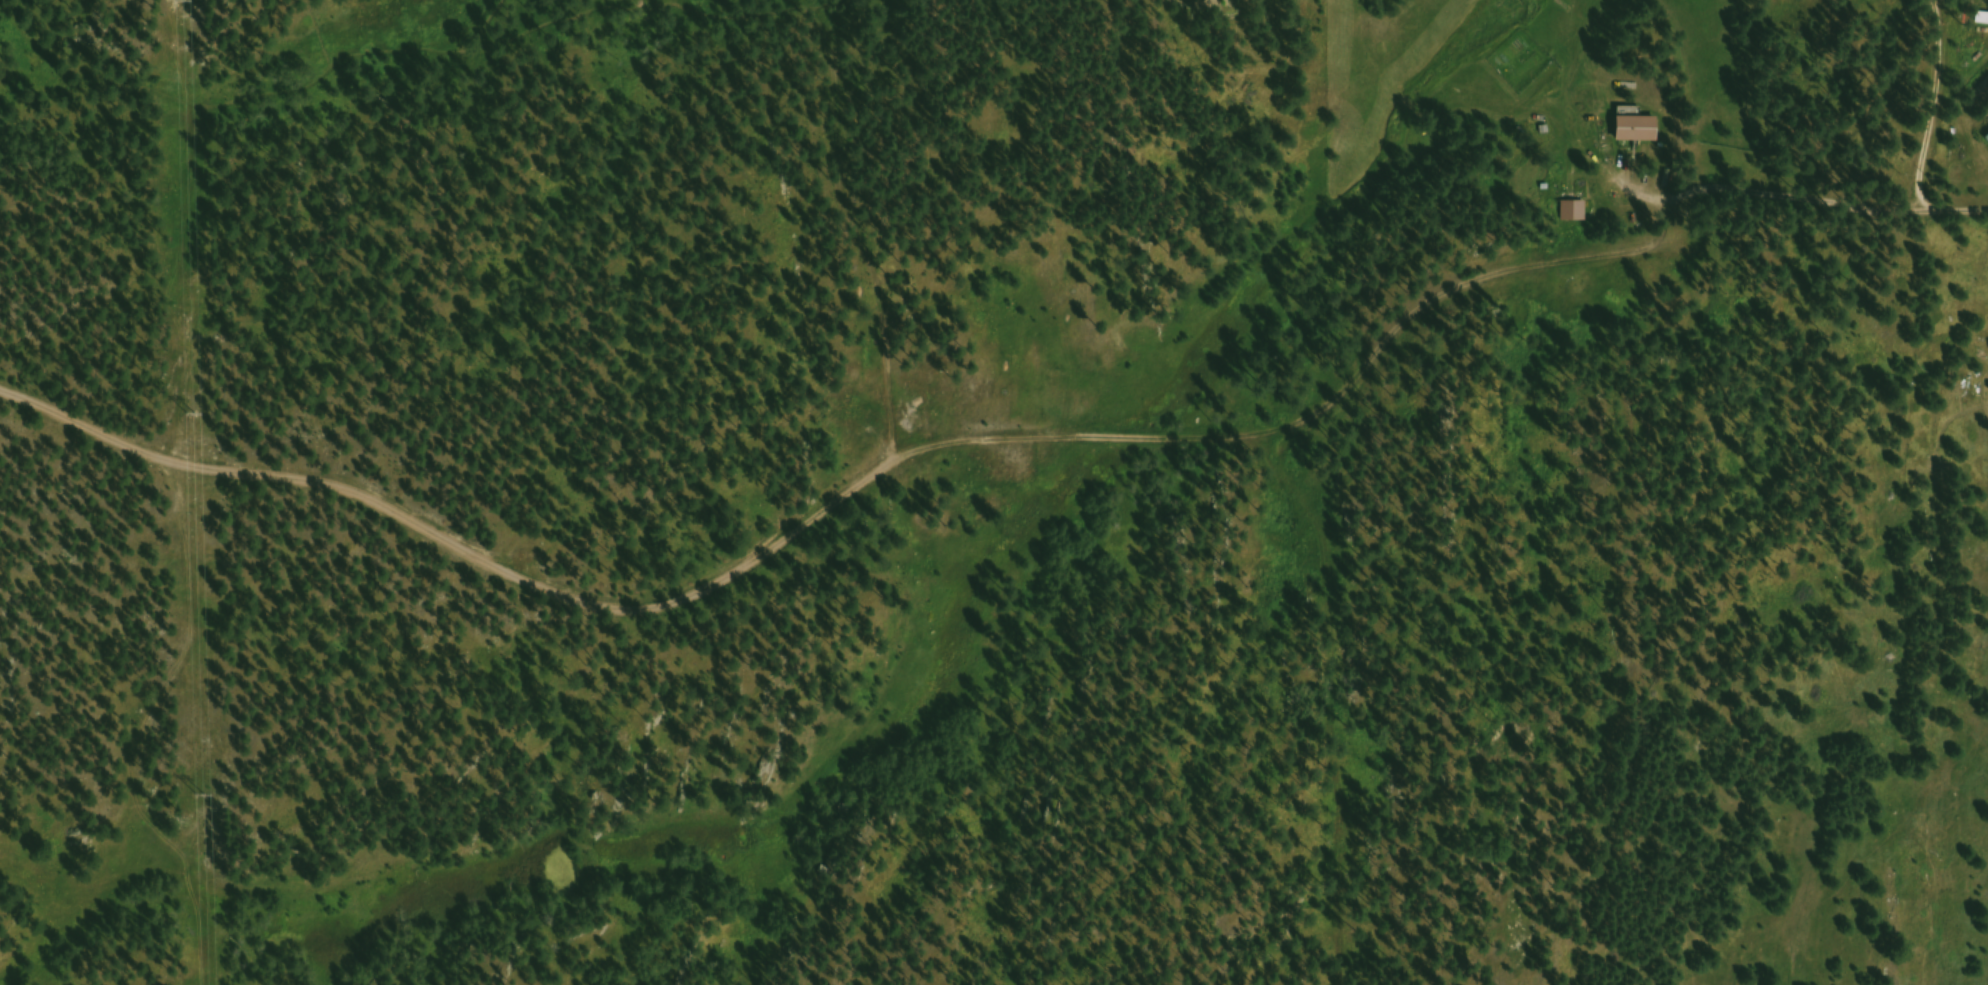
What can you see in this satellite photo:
building: (1191, 1)
building: (1516, 52)
building: (1642, 132)
building: (1987, 142)
road: (1848, 197)
building: (1575, 214)
road: (840, 501)

